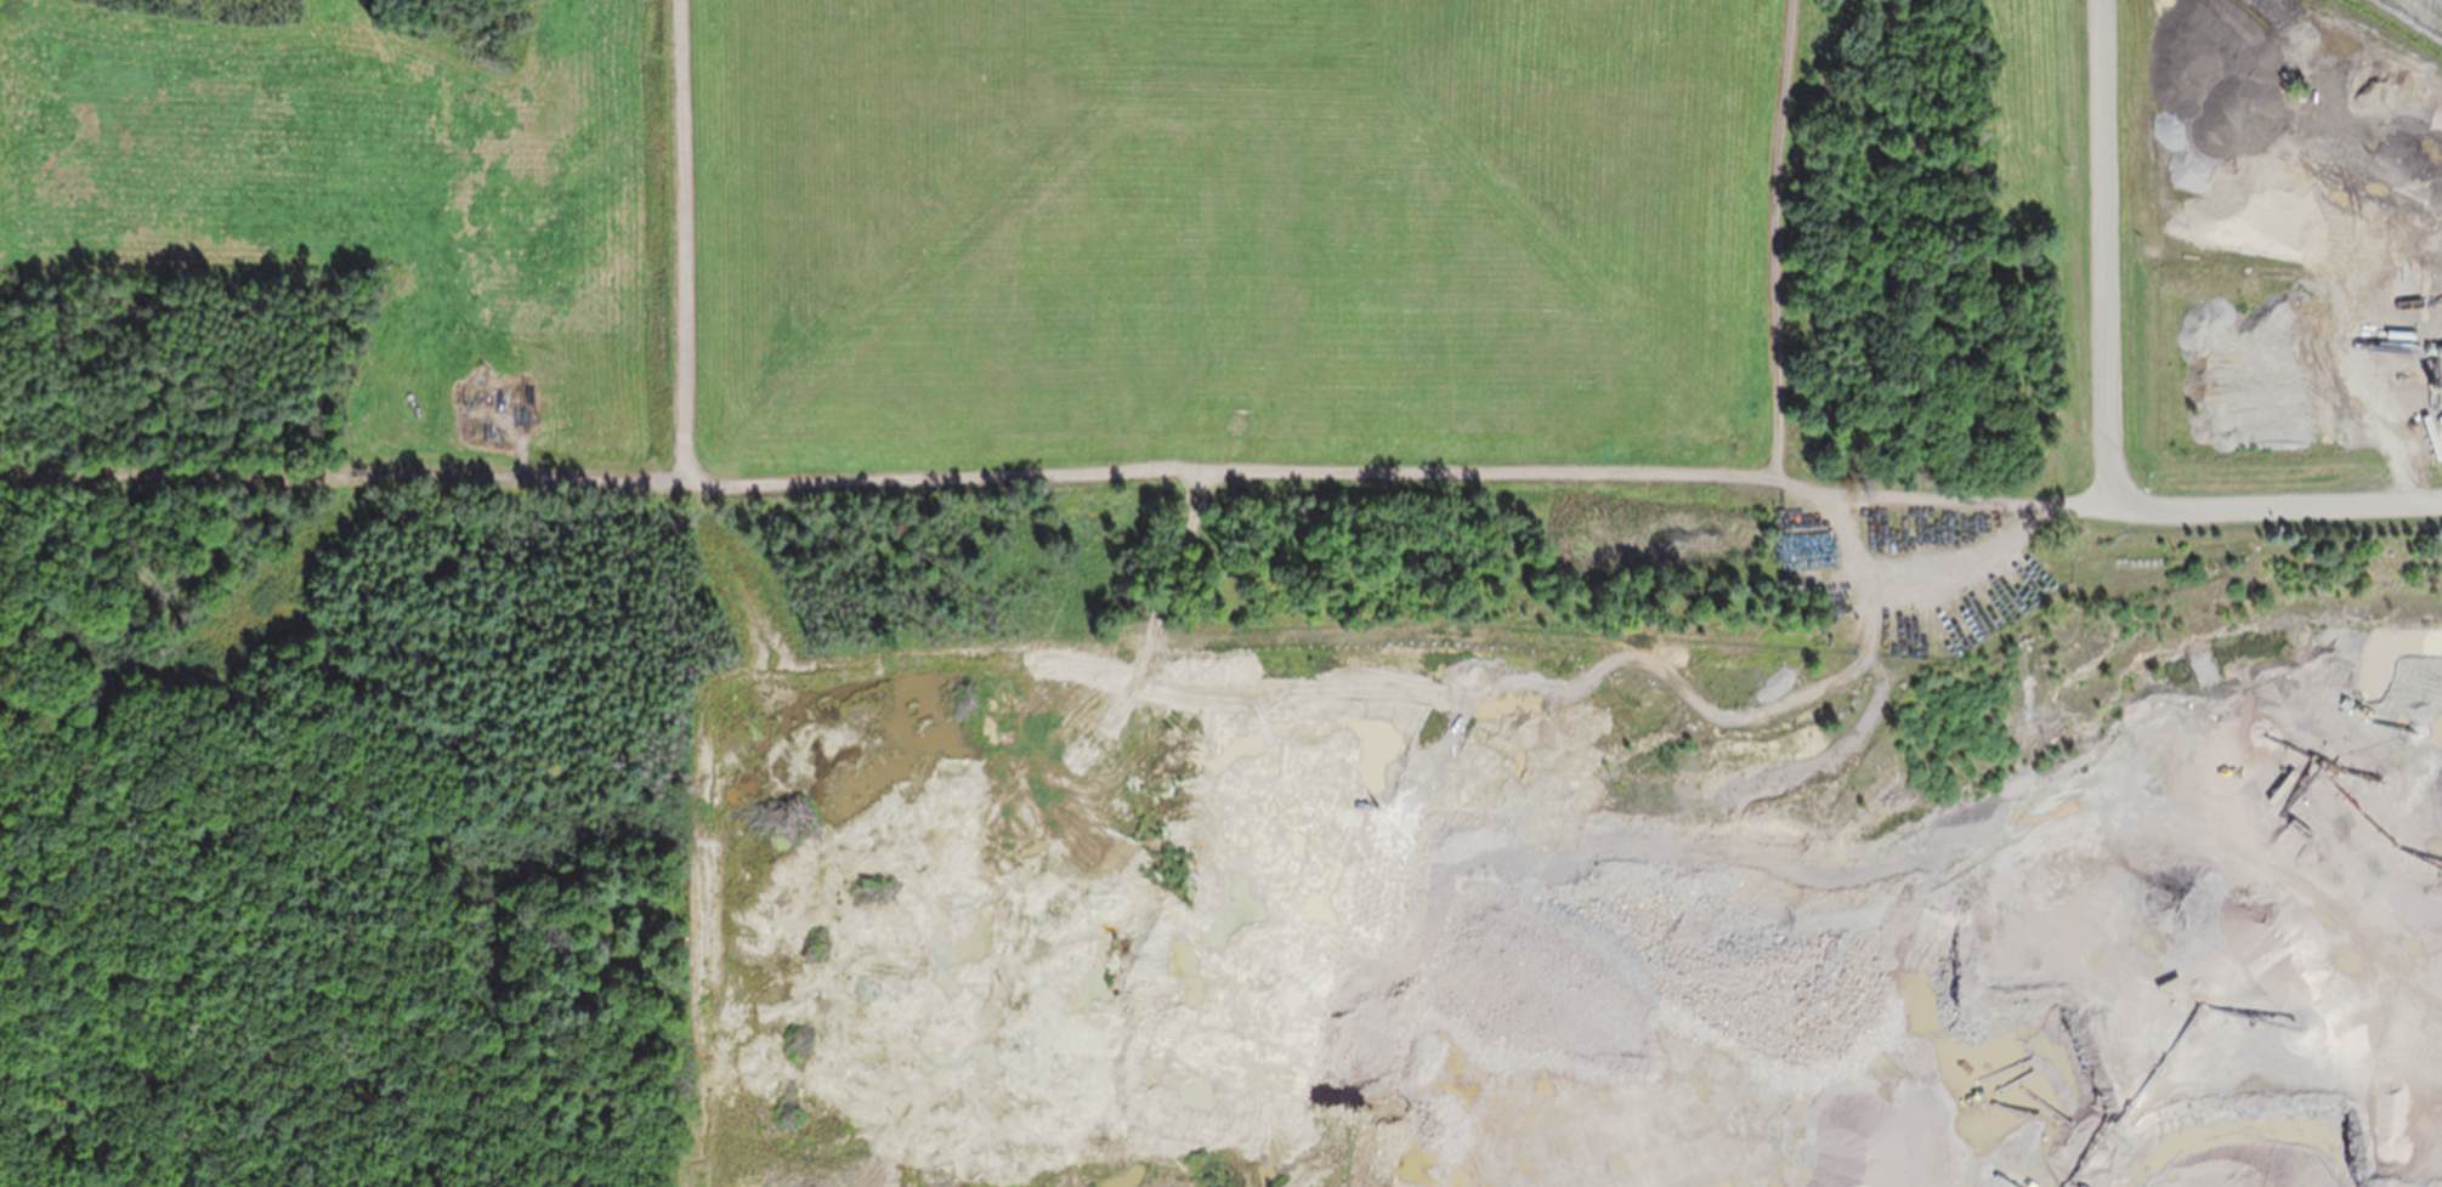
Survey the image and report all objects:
road: (2066, 250)
road: (1664, 473)
landfill: (1220, 593)
building: (2317, 723)

